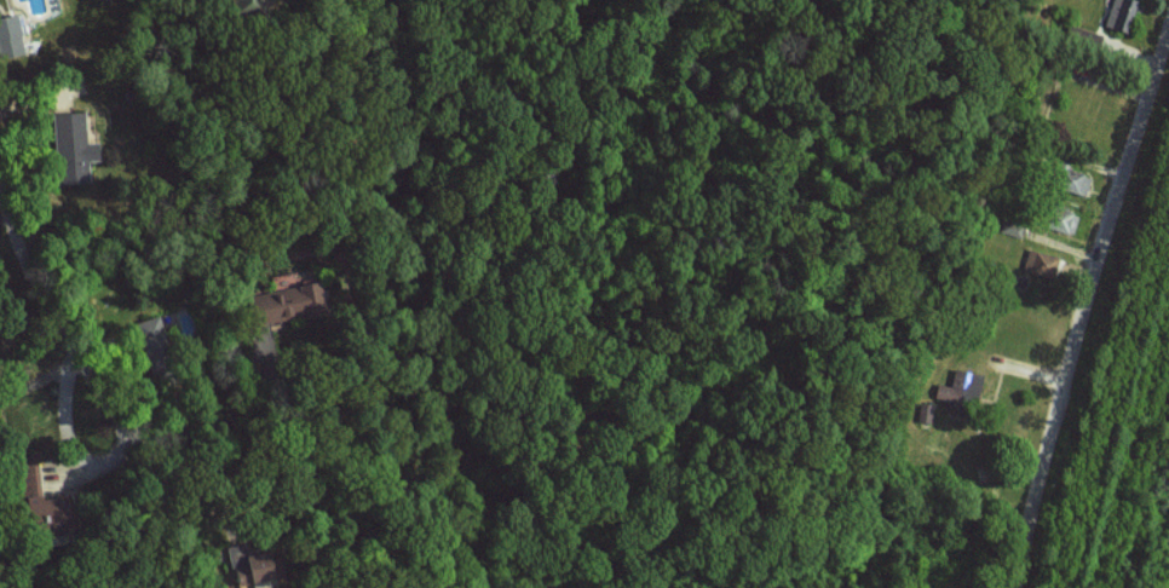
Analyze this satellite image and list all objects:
building: (1121, 13)
building: (15, 36)
building: (76, 148)
building: (1041, 263)
road: (16, 278)
building: (296, 299)
road: (1089, 301)
building: (151, 333)
building: (962, 387)
road: (29, 388)
road: (87, 472)
building: (252, 564)

